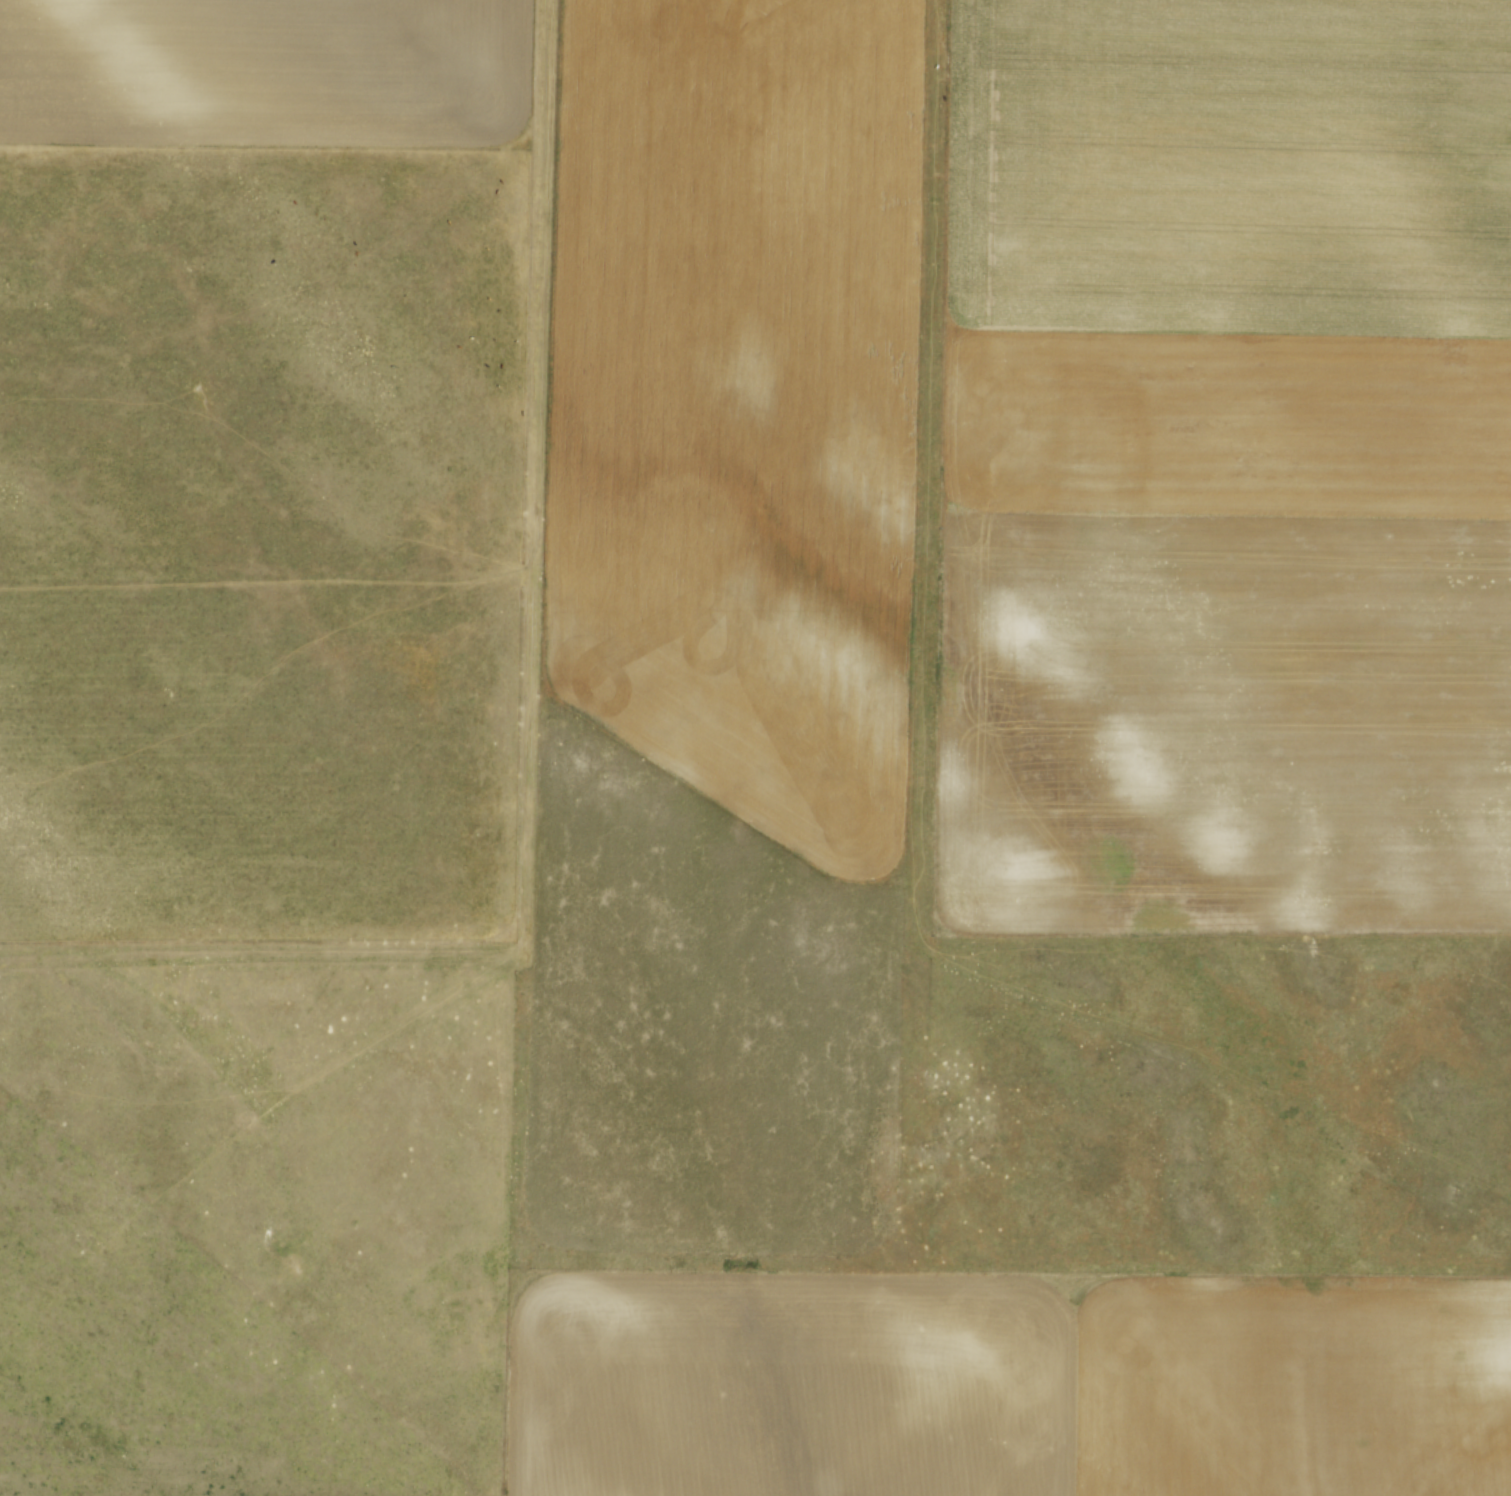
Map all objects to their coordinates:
crop: (946, 662)

